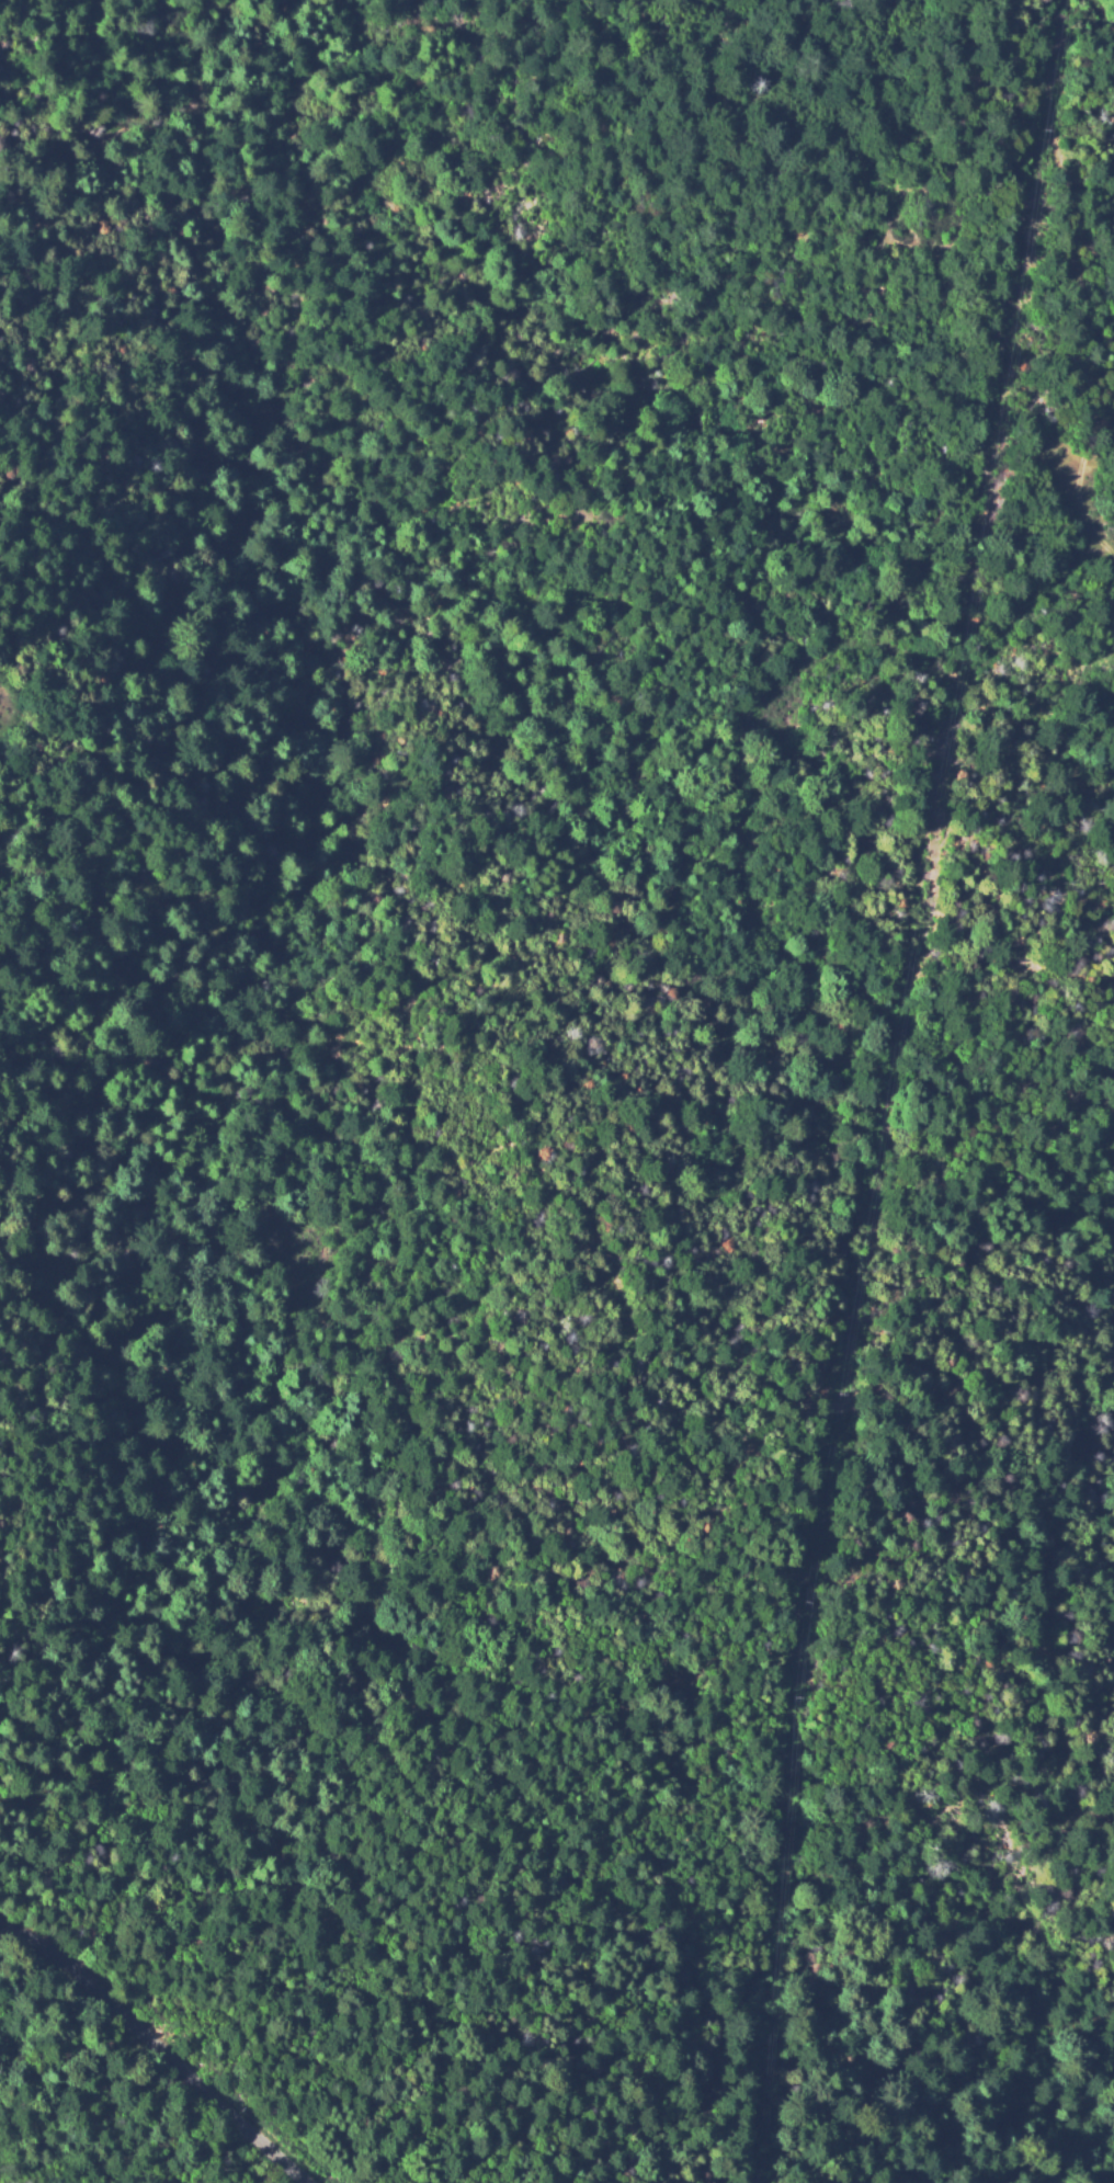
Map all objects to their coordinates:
road: (161, 2047)
road: (963, 2056)

